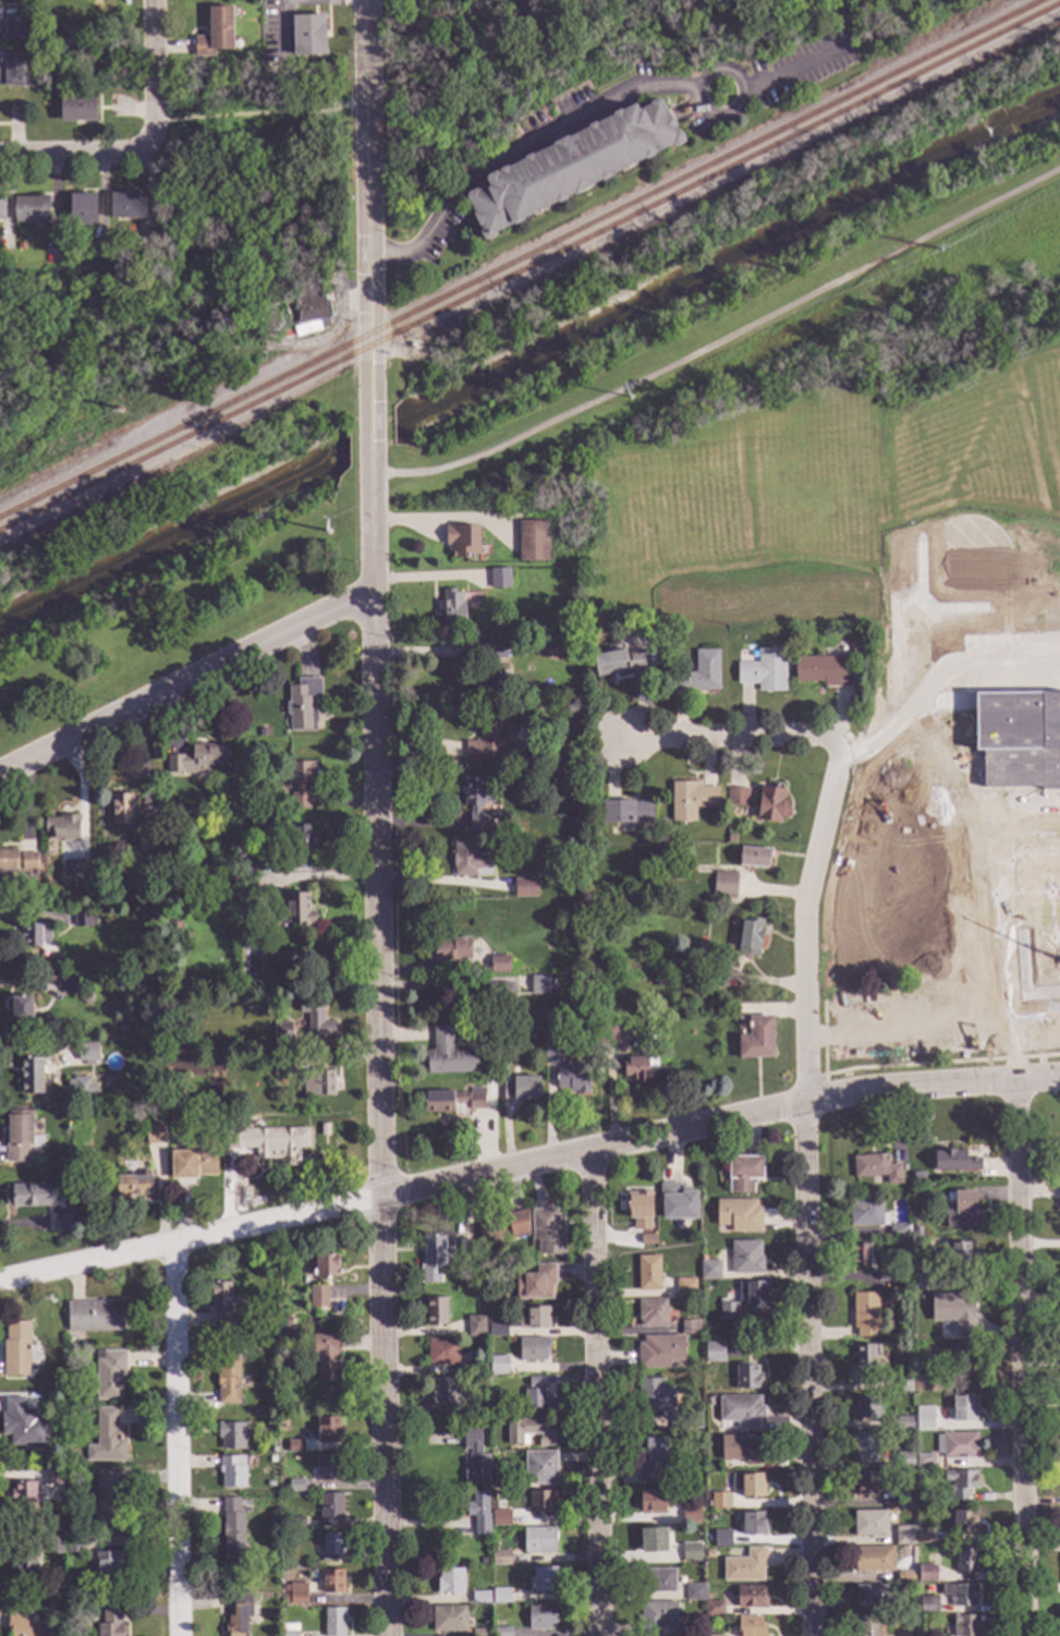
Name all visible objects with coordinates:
building: (12, 32)
building: (214, 36)
building: (307, 36)
park: (563, 64)
road: (793, 72)
road: (149, 75)
building: (12, 76)
road: (735, 110)
building: (76, 112)
road: (260, 114)
road: (516, 148)
road: (74, 150)
building: (571, 166)
railway: (707, 167)
building: (126, 208)
road: (369, 208)
building: (1, 209)
building: (82, 211)
building: (29, 213)
power tower: (940, 250)
park: (184, 253)
railway: (529, 268)
park: (750, 304)
building: (312, 311)
building: (266, 316)
road: (722, 341)
building: (413, 346)
power tower: (630, 399)
power tower: (119, 409)
park: (1036, 416)
railway: (186, 427)
road: (371, 437)
road: (373, 466)
power tower: (328, 532)
road: (373, 535)
building: (461, 541)
building: (532, 542)
park: (178, 563)
building: (500, 579)
building: (450, 610)
building: (495, 651)
building: (856, 654)
building: (616, 663)
building: (763, 670)
building: (820, 670)
building: (697, 675)
building: (489, 684)
road: (186, 686)
building: (302, 704)
building: (568, 706)
building: (491, 739)
road: (732, 740)
building: (197, 761)
building: (298, 784)
building: (735, 797)
building: (690, 800)
building: (475, 803)
building: (771, 805)
building: (120, 810)
building: (625, 813)
building: (62, 828)
building: (146, 838)
building: (730, 838)
building: (302, 843)
building: (689, 853)
building: (753, 858)
building: (468, 861)
building: (14, 862)
building: (256, 863)
building: (75, 869)
building: (723, 885)
building: (524, 887)
building: (295, 912)
building: (83, 920)
building: (174, 929)
building: (983, 929)
building: (35, 935)
road: (1007, 935)
building: (748, 937)
building: (447, 949)
building: (723, 956)
building: (498, 965)
building: (712, 977)
road: (434, 985)
building: (539, 985)
building: (68, 986)
building: (85, 998)
building: (496, 998)
building: (20, 1010)
building: (315, 1019)
building: (607, 1034)
building: (281, 1037)
building: (756, 1038)
building: (86, 1051)
building: (550, 1051)
building: (448, 1055)
building: (282, 1065)
building: (31, 1070)
building: (643, 1071)
building: (572, 1079)
building: (318, 1084)
building: (515, 1088)
building: (80, 1090)
building: (453, 1101)
road: (377, 1115)
building: (173, 1128)
building: (324, 1130)
building: (154, 1135)
building: (19, 1136)
building: (264, 1137)
building: (1057, 1152)
building: (953, 1162)
building: (193, 1165)
road: (527, 1166)
building: (876, 1170)
building: (743, 1174)
building: (917, 1176)
road: (806, 1185)
building: (130, 1186)
building: (26, 1196)
building: (678, 1203)
building: (638, 1209)
building: (962, 1212)
building: (866, 1215)
building: (738, 1217)
building: (60, 1221)
building: (503, 1228)
building: (898, 1232)
building: (547, 1233)
building: (915, 1233)
building: (647, 1239)
building: (860, 1256)
building: (955, 1256)
building: (439, 1258)
building: (745, 1259)
building: (326, 1267)
building: (709, 1271)
building: (648, 1275)
building: (885, 1276)
building: (923, 1282)
building: (535, 1284)
building: (684, 1287)
building: (751, 1293)
building: (498, 1296)
building: (318, 1297)
building: (925, 1297)
building: (221, 1304)
building: (953, 1311)
building: (434, 1312)
building: (727, 1312)
building: (651, 1313)
building: (864, 1314)
building: (93, 1318)
building: (534, 1319)
building: (687, 1328)
building: (476, 1329)
building: (497, 1331)
building: (924, 1332)
building: (14, 1350)
building: (533, 1350)
building: (659, 1353)
building: (441, 1354)
building: (712, 1354)
building: (865, 1356)
building: (326, 1358)
road: (1022, 1361)
building: (498, 1366)
building: (936, 1369)
building: (477, 1370)
building: (108, 1376)
building: (746, 1378)
building: (229, 1379)
building: (533, 1382)
building: (903, 1385)
building: (443, 1393)
road: (595, 1394)
building: (653, 1395)
building: (537, 1401)
building: (477, 1408)
building: (866, 1408)
building: (963, 1409)
building: (282, 1411)
building: (741, 1411)
building: (924, 1419)
building: (684, 1421)
building: (904, 1425)
building: (21, 1426)
building: (706, 1427)
building: (281, 1428)
building: (328, 1431)
building: (527, 1434)
building: (230, 1438)
road: (175, 1440)
building: (106, 1441)
building: (958, 1446)
building: (294, 1449)
building: (271, 1450)
building: (742, 1450)
building: (865, 1450)
building: (273, 1458)
building: (474, 1459)
building: (903, 1461)
building: (653, 1462)
building: (925, 1462)
building: (328, 1469)
building: (543, 1469)
building: (231, 1473)
building: (51, 1478)
building: (271, 1483)
building: (865, 1483)
building: (748, 1486)
building: (960, 1486)
building: (295, 1487)
building: (24, 1498)
building: (903, 1498)
building: (108, 1500)
building: (541, 1502)
building: (719, 1502)
building: (651, 1503)
building: (330, 1508)
building: (478, 1514)
building: (690, 1516)
building: (500, 1519)
building: (963, 1523)
building: (295, 1525)
building: (753, 1525)
building: (869, 1525)
building: (232, 1531)
building: (904, 1537)
building: (722, 1540)
building: (539, 1541)
building: (654, 1542)
building: (73, 1546)
building: (51, 1547)
building: (330, 1548)
building: (689, 1553)
building: (707, 1554)
building: (500, 1559)
building: (874, 1561)
building: (965, 1562)
building: (744, 1566)
building: (23, 1568)
building: (106, 1571)
building: (926, 1574)
building: (905, 1578)
building: (544, 1580)
building: (657, 1582)
building: (332, 1583)
building: (450, 1584)
building: (694, 1593)
building: (296, 1595)
building: (959, 1595)
building: (501, 1597)
building: (873, 1597)
building: (751, 1598)
building: (479, 1599)
building: (49, 1605)
building: (927, 1605)
building: (715, 1609)
building: (239, 1614)
building: (541, 1619)
building: (656, 1619)
building: (449, 1620)
building: (332, 1622)
building: (109, 1623)
building: (23, 1626)
building: (750, 1626)
building: (867, 1626)
building: (964, 1626)
building: (290, 1629)
building: (502, 1632)
building: (480, 1633)

